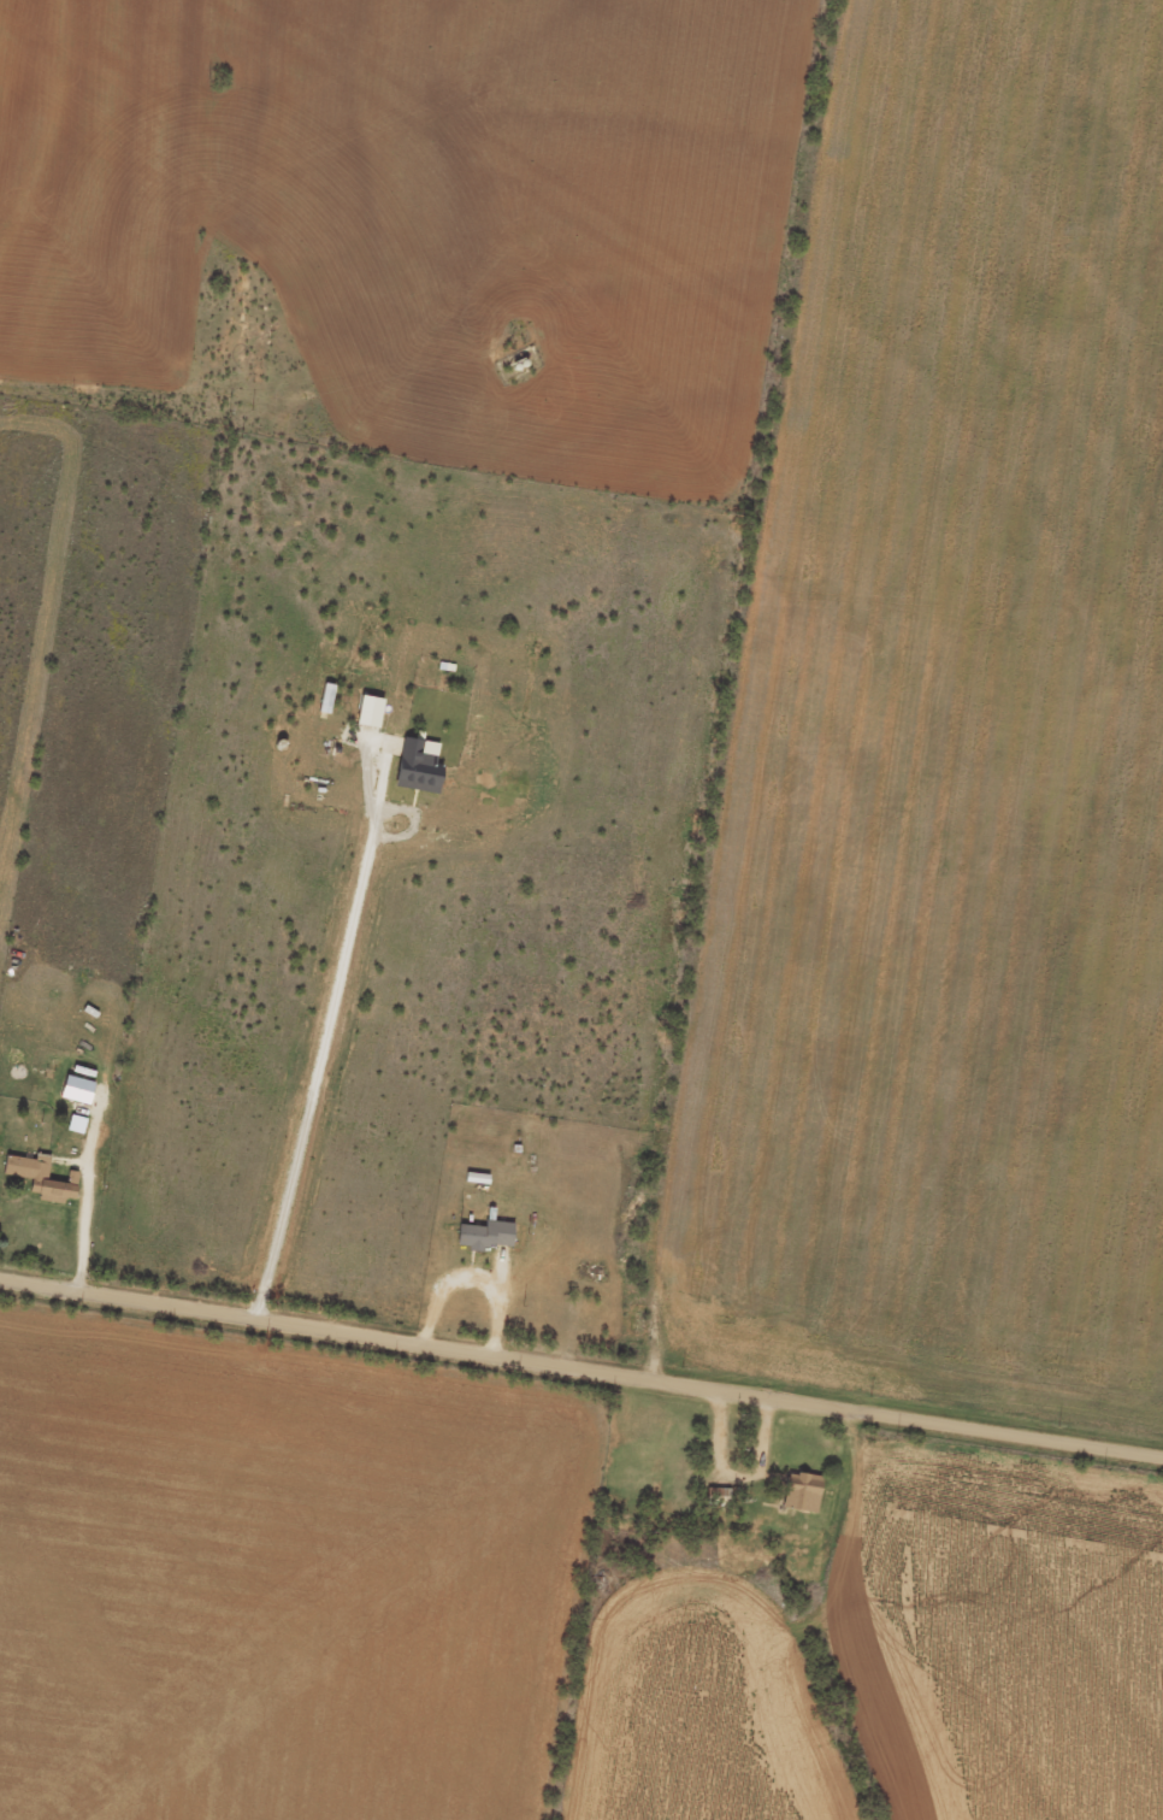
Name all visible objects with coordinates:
building: (365, 719)
building: (414, 776)
road: (326, 1035)
building: (72, 1097)
building: (39, 1186)
building: (482, 1244)
road: (580, 1366)
building: (798, 1501)

